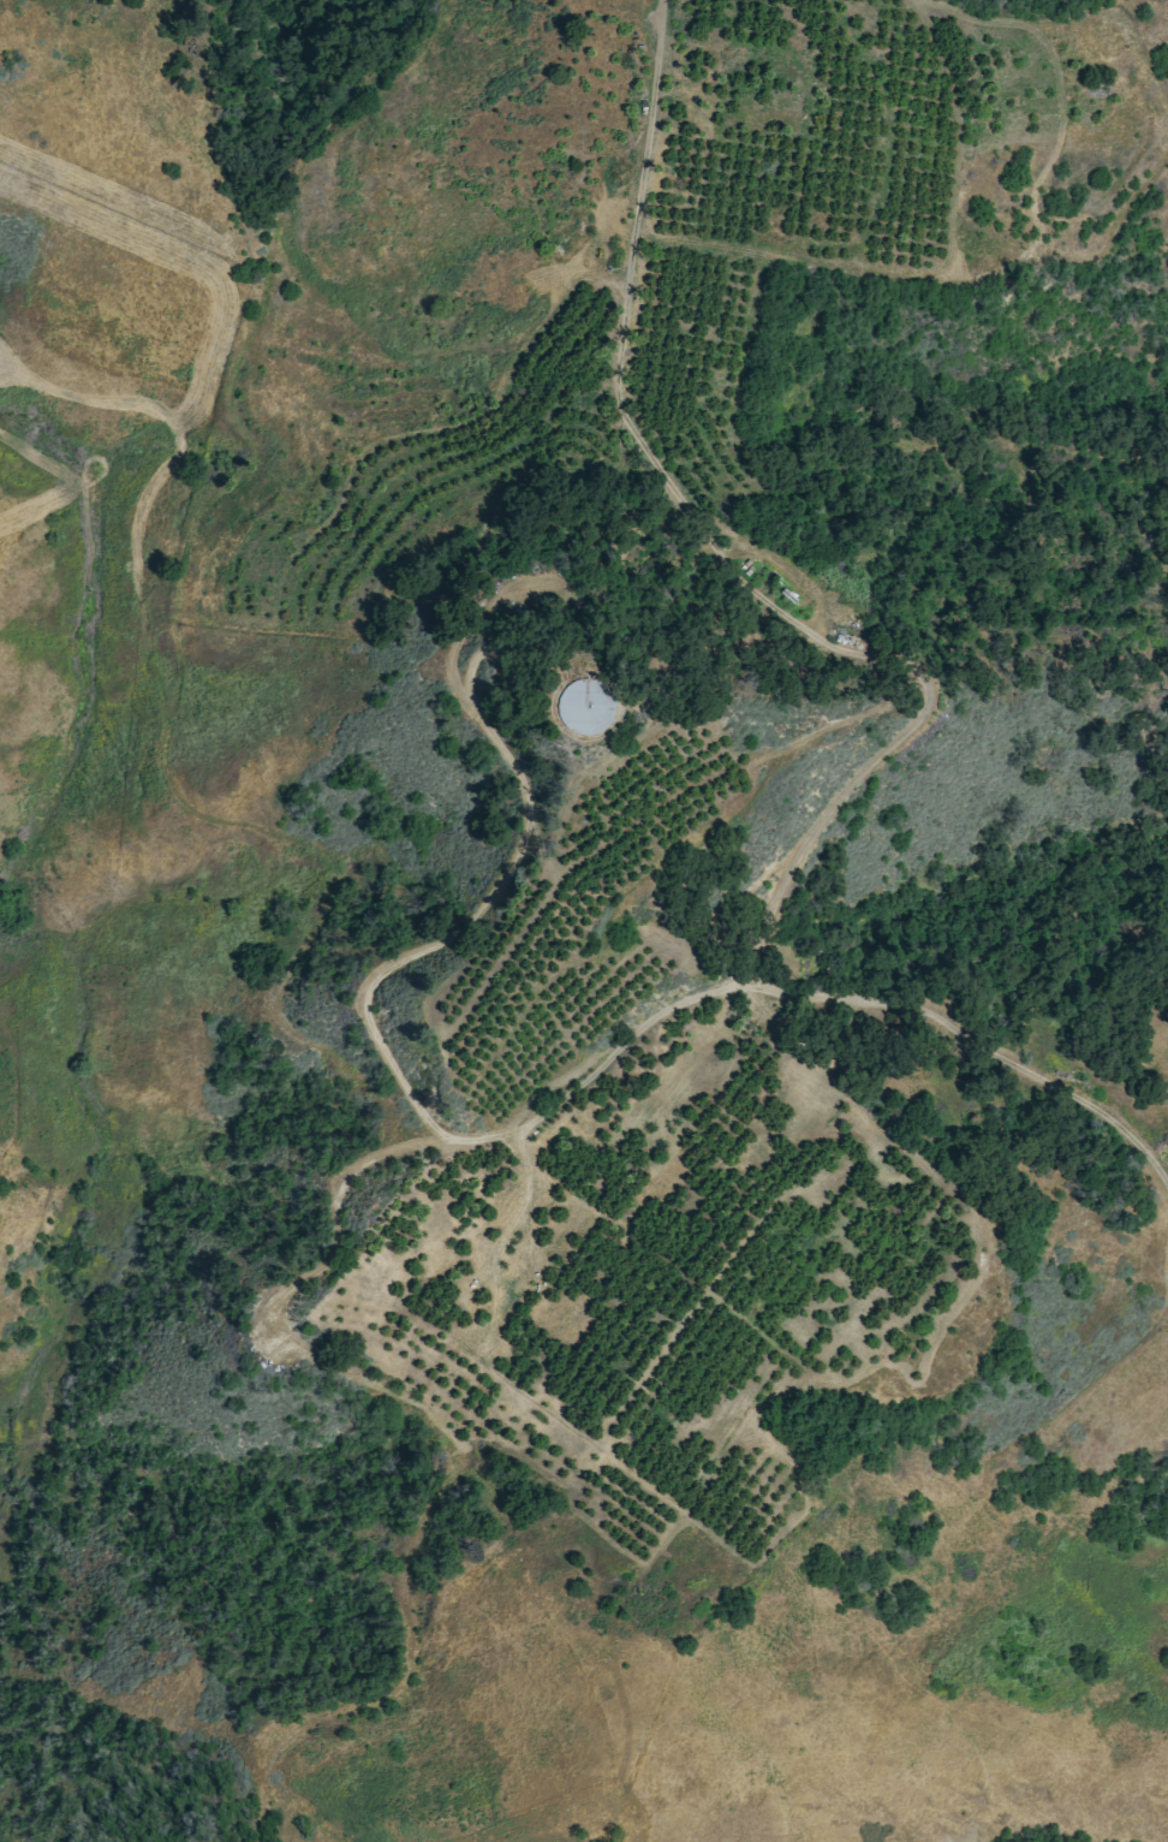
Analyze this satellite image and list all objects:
road: (144, 232)
road: (768, 565)
road: (314, 915)
road: (478, 915)
road: (452, 1448)

